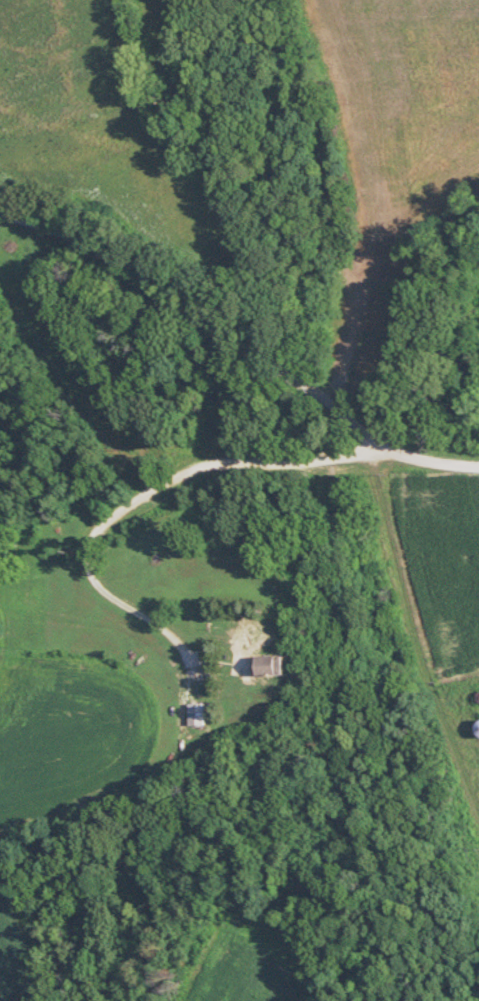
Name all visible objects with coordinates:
road: (196, 320)
road: (432, 458)
road: (118, 506)
road: (411, 632)
building: (264, 662)

